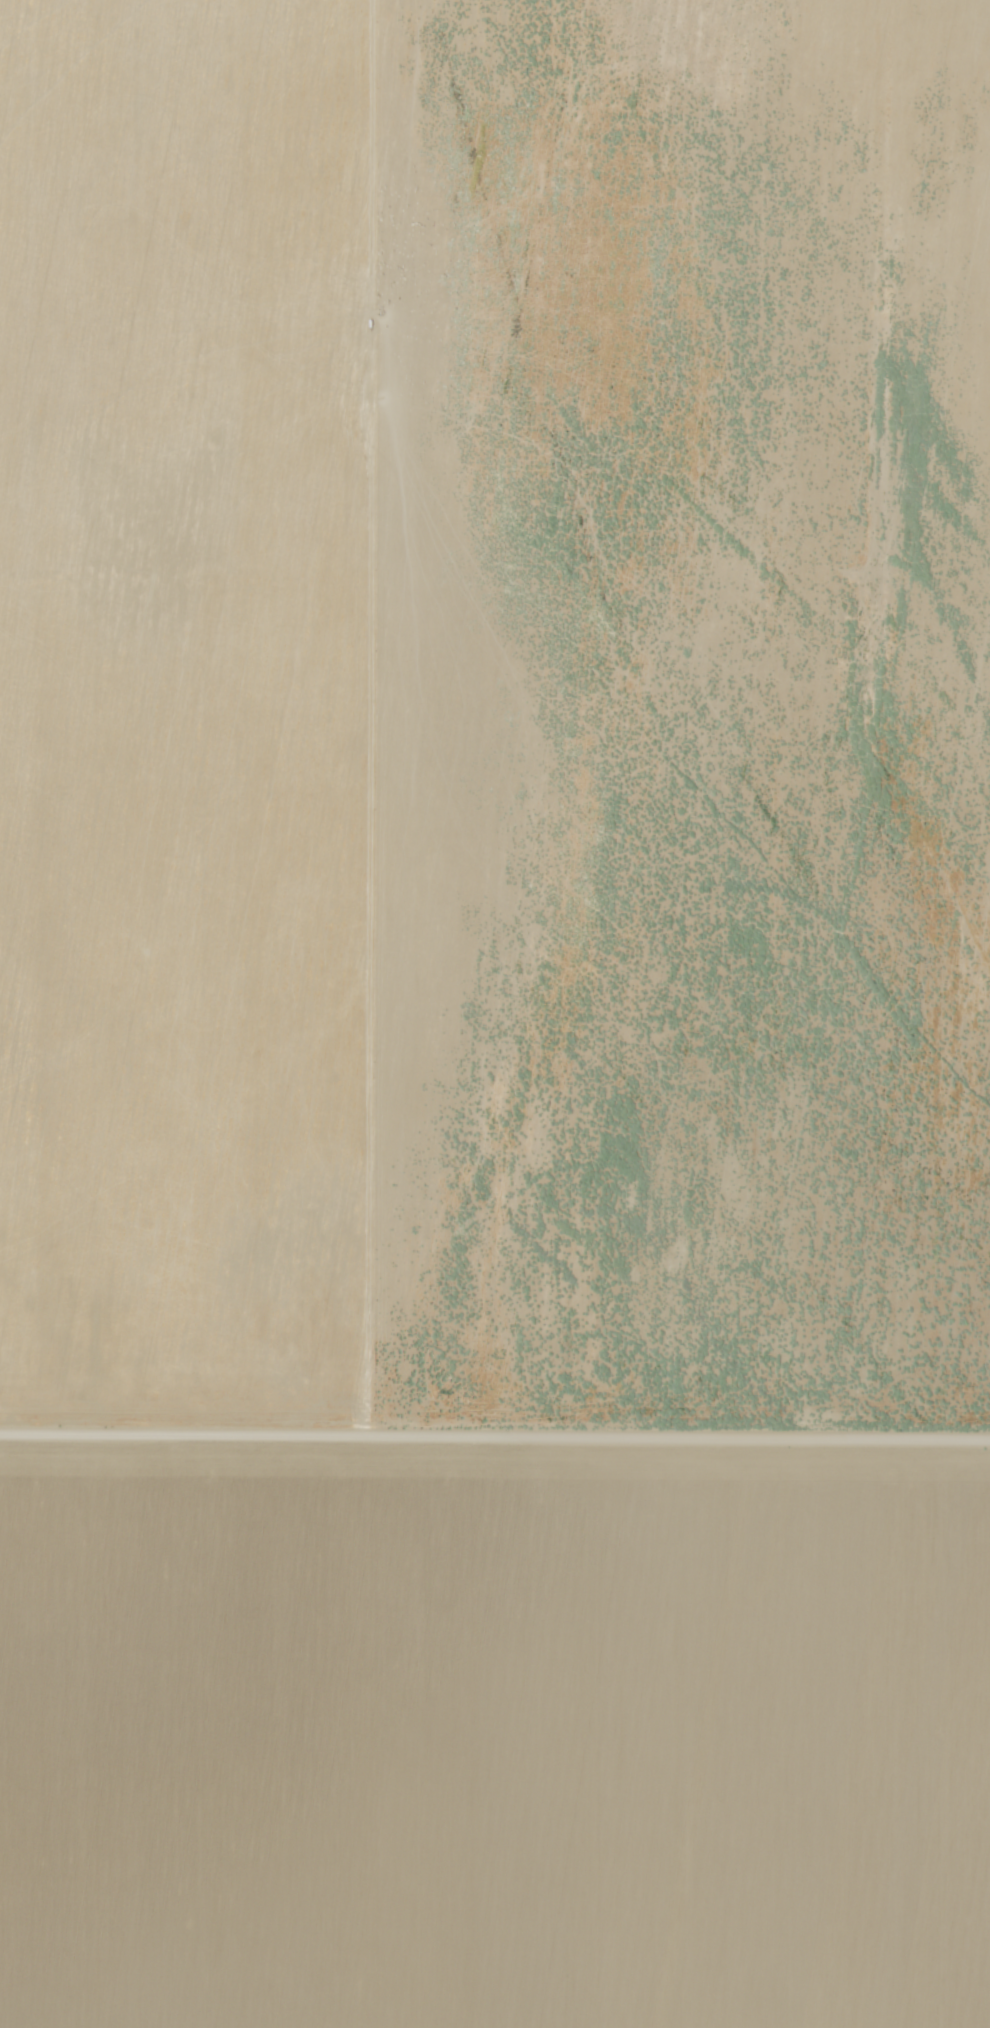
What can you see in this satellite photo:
road: (495, 1439)

